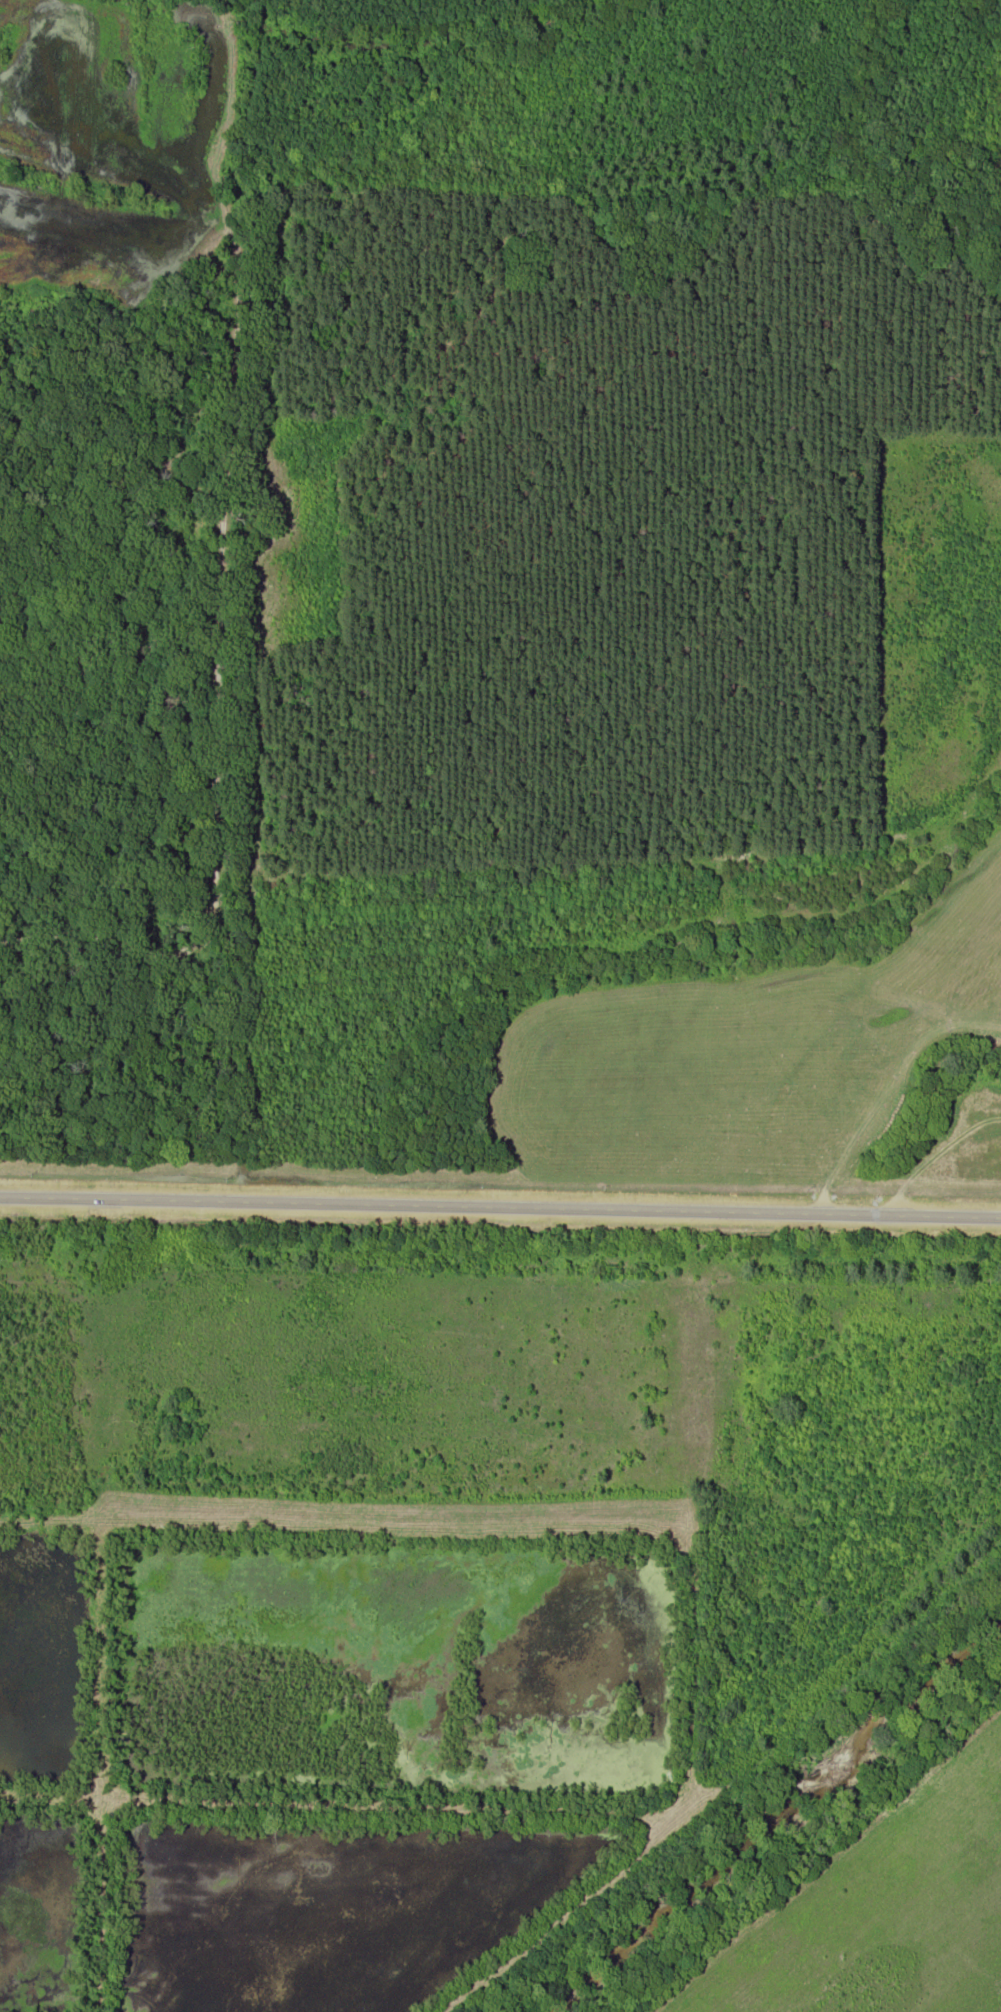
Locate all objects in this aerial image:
road: (500, 1207)

